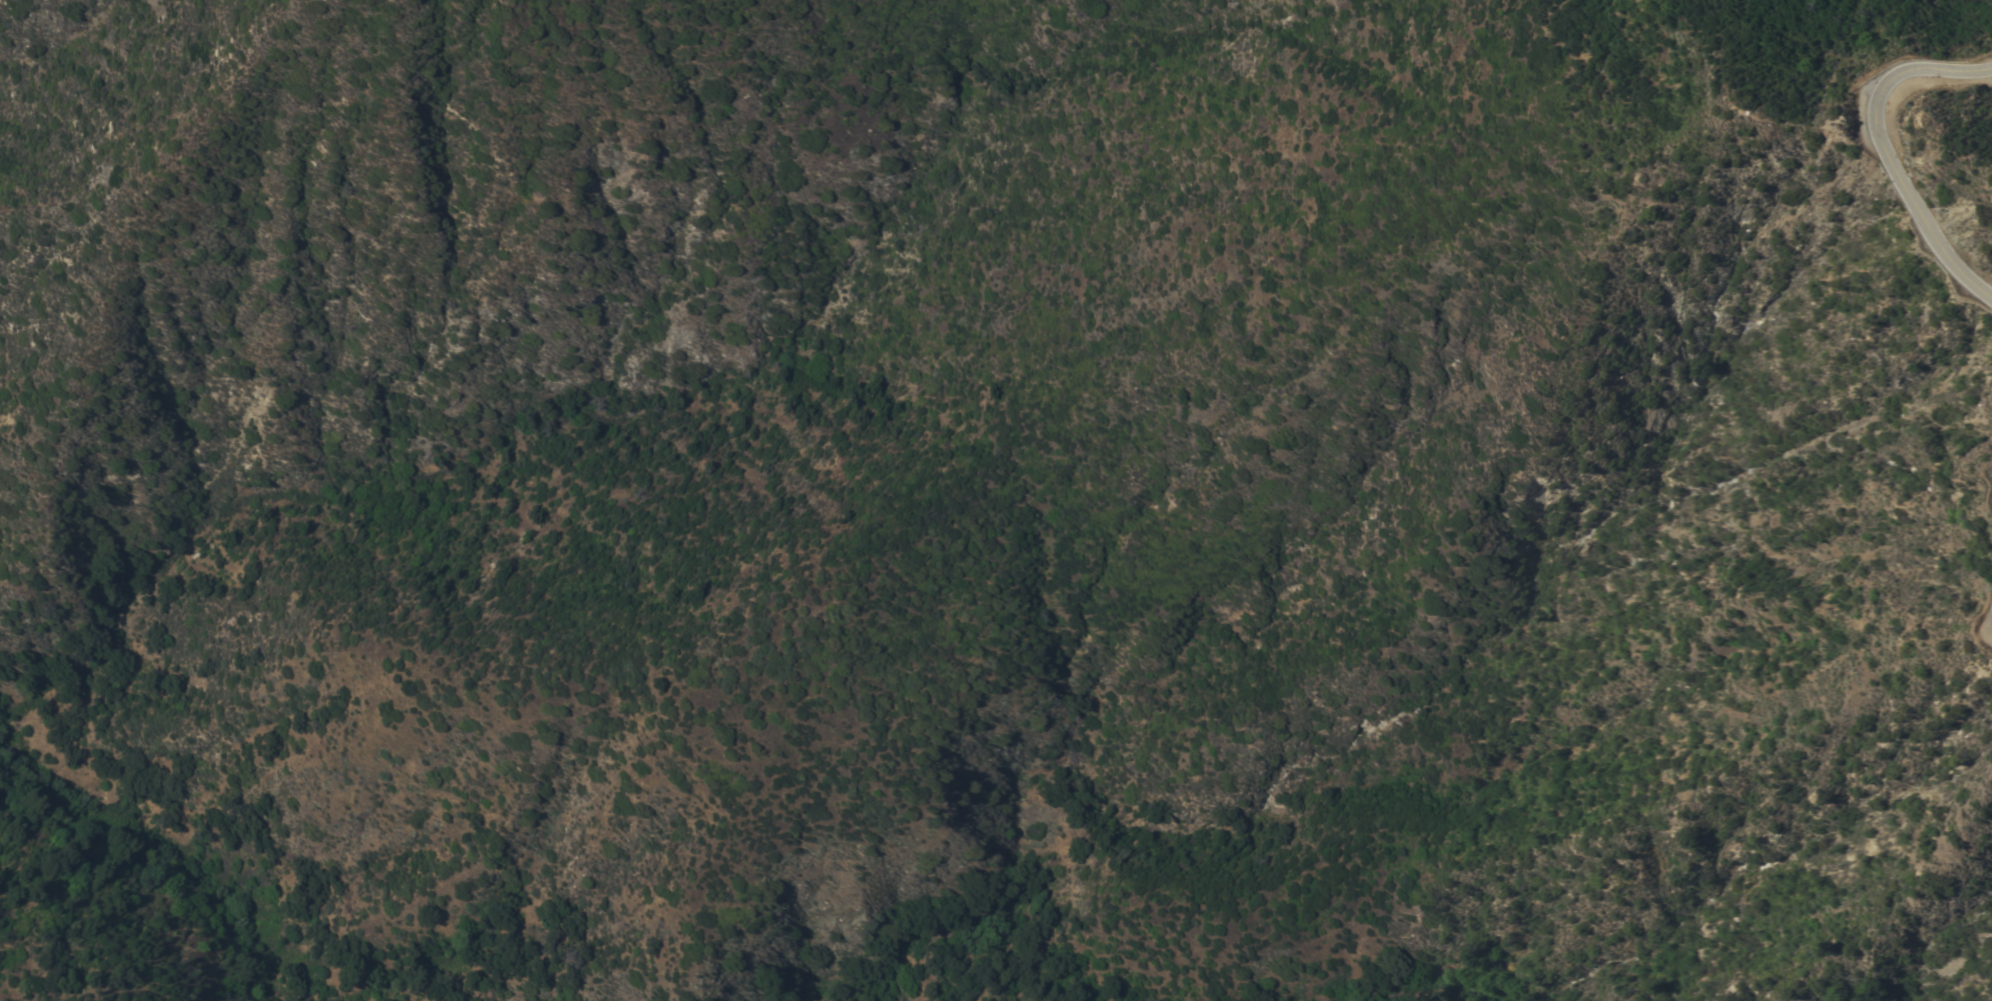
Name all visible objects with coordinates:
road: (1885, 150)

